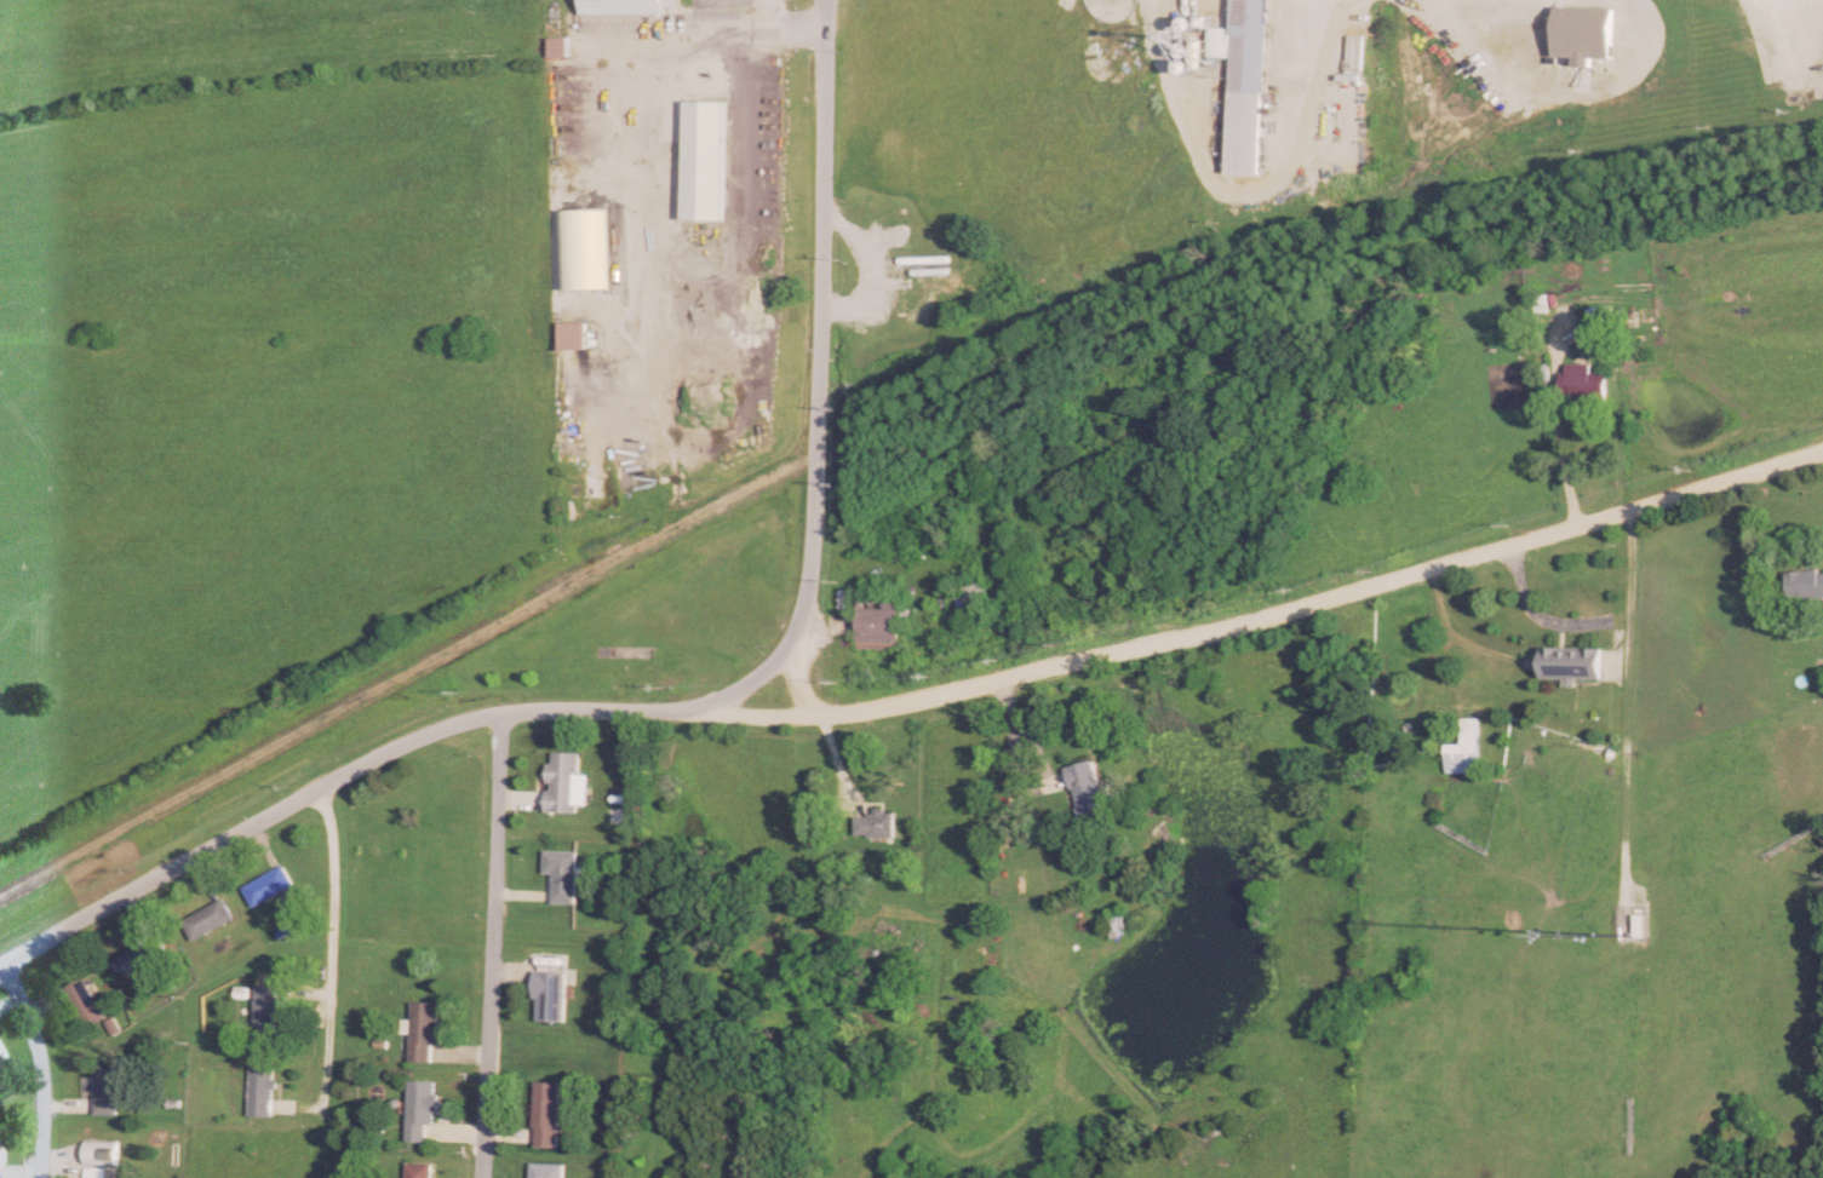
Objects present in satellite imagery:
building: (631, 6)
road: (766, 23)
building: (561, 46)
building: (1254, 87)
building: (583, 249)
building: (1543, 303)
building: (1601, 315)
building: (577, 335)
building: (1586, 383)
road: (1629, 579)
building: (1806, 582)
building: (976, 601)
road: (1252, 605)
building: (883, 619)
building: (1573, 661)
road: (798, 679)
road: (700, 707)
building: (1467, 748)
building: (566, 780)
building: (1094, 789)
building: (879, 823)
building: (564, 873)
building: (270, 885)
building: (211, 919)
building: (1641, 923)
building: (1124, 924)
road: (331, 941)
road: (492, 944)
building: (144, 955)
road: (1, 961)
building: (552, 994)
building: (86, 1001)
building: (269, 1007)
building: (425, 1030)
building: (1, 1053)
road: (40, 1065)
building: (263, 1085)
building: (109, 1090)
building: (423, 1107)
building: (549, 1113)
building: (0, 1149)
building: (104, 1153)
building: (420, 1170)
building: (549, 1170)

